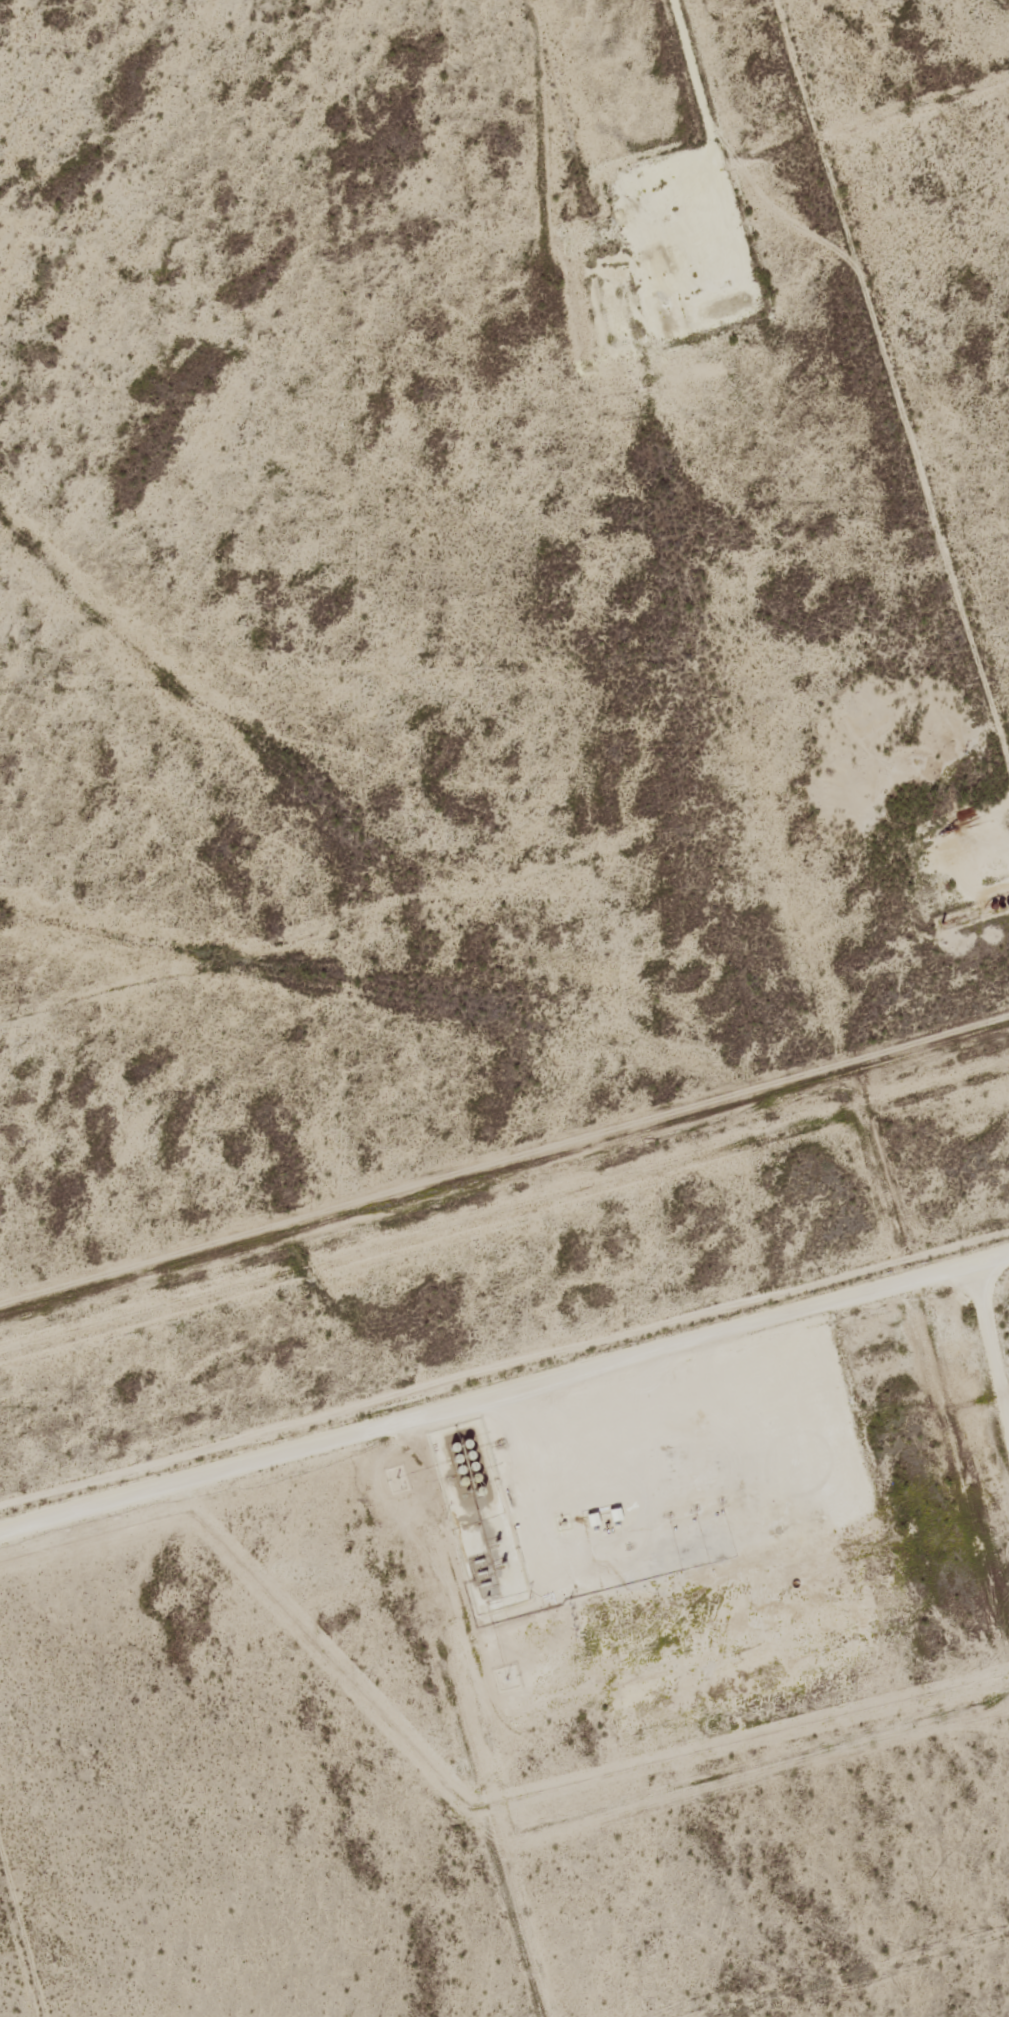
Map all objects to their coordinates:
road: (501, 1364)

